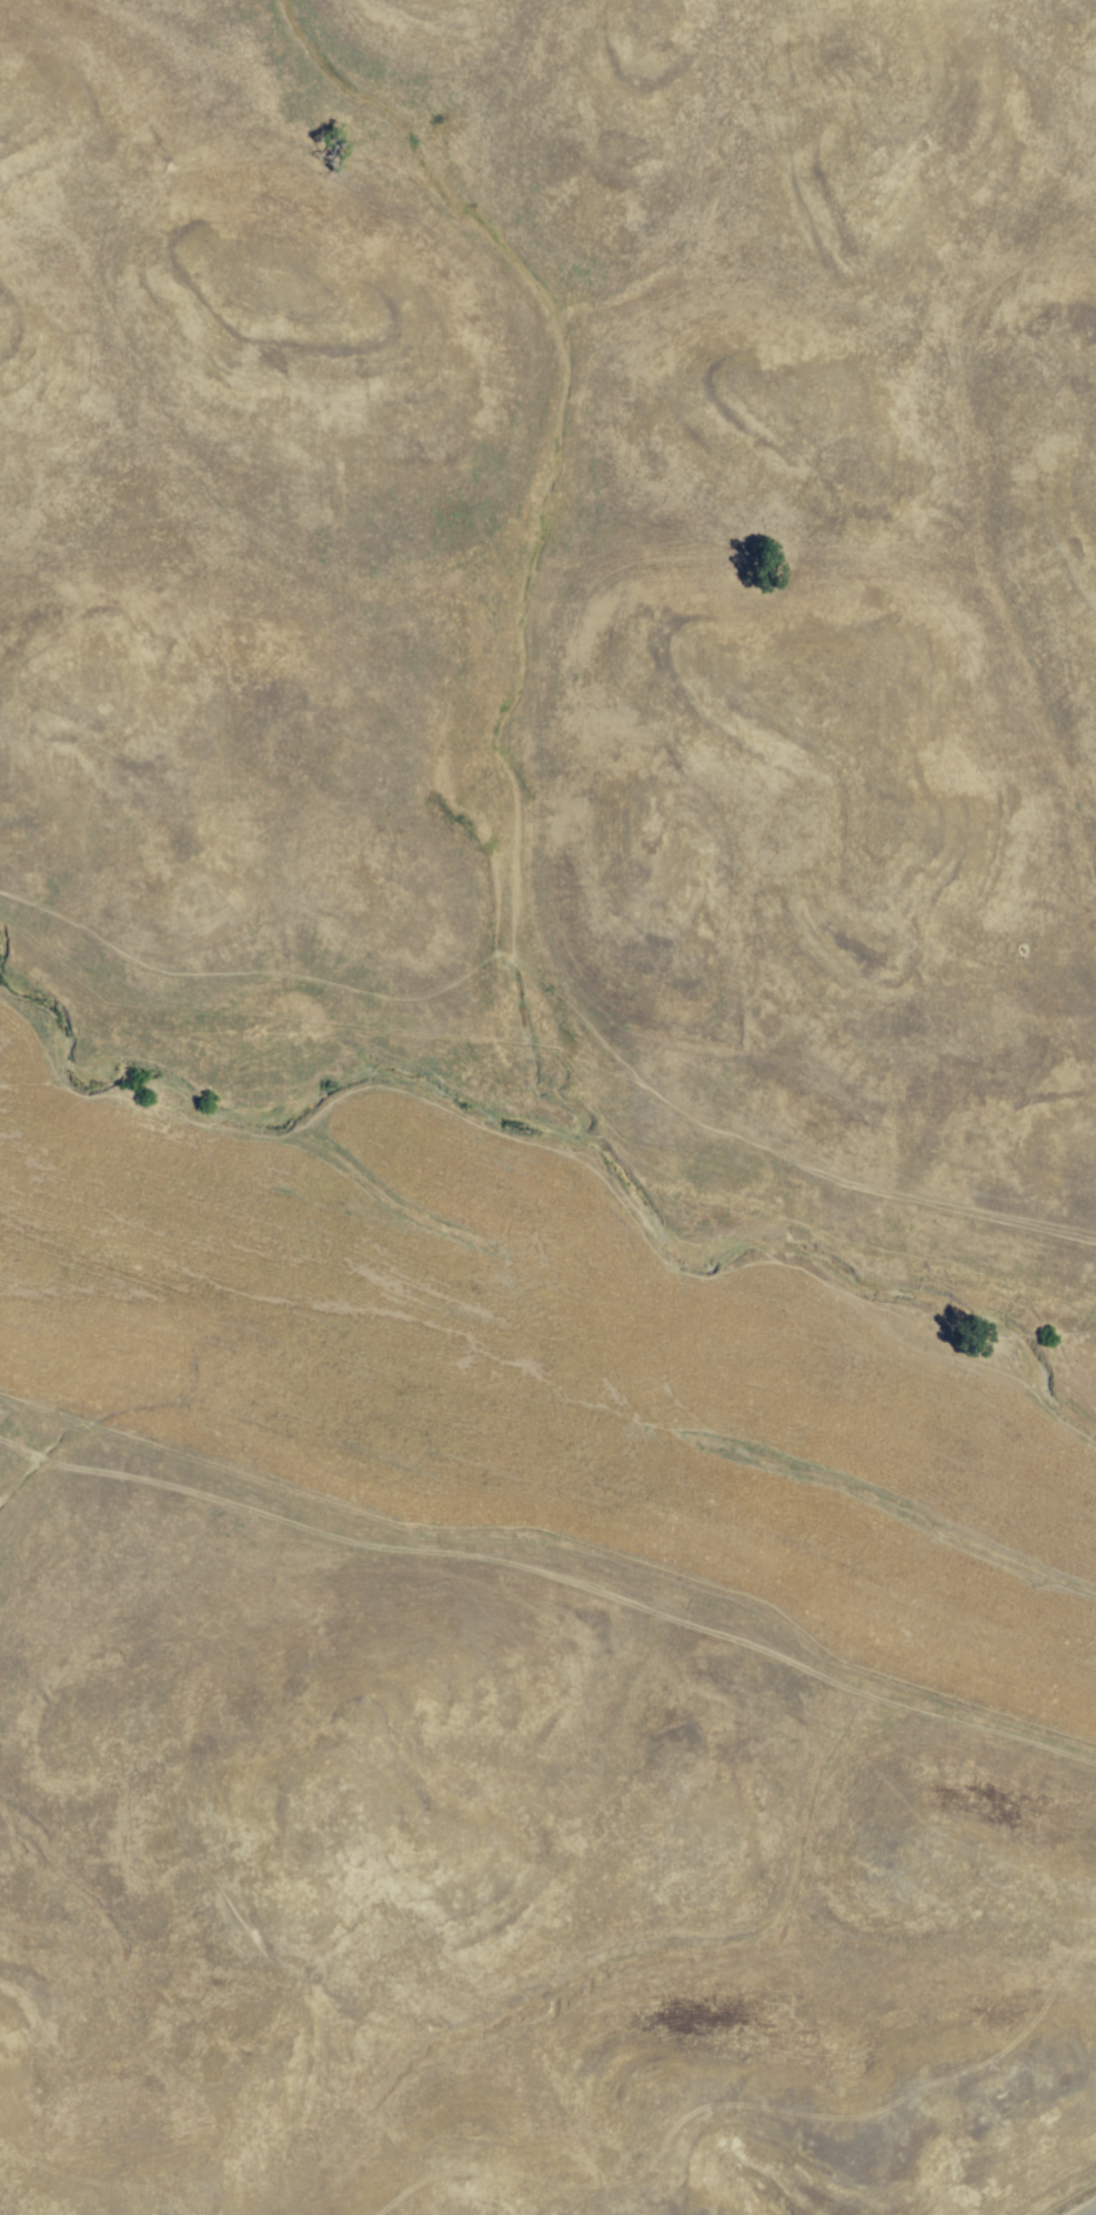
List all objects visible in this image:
road: (1089, 2211)

